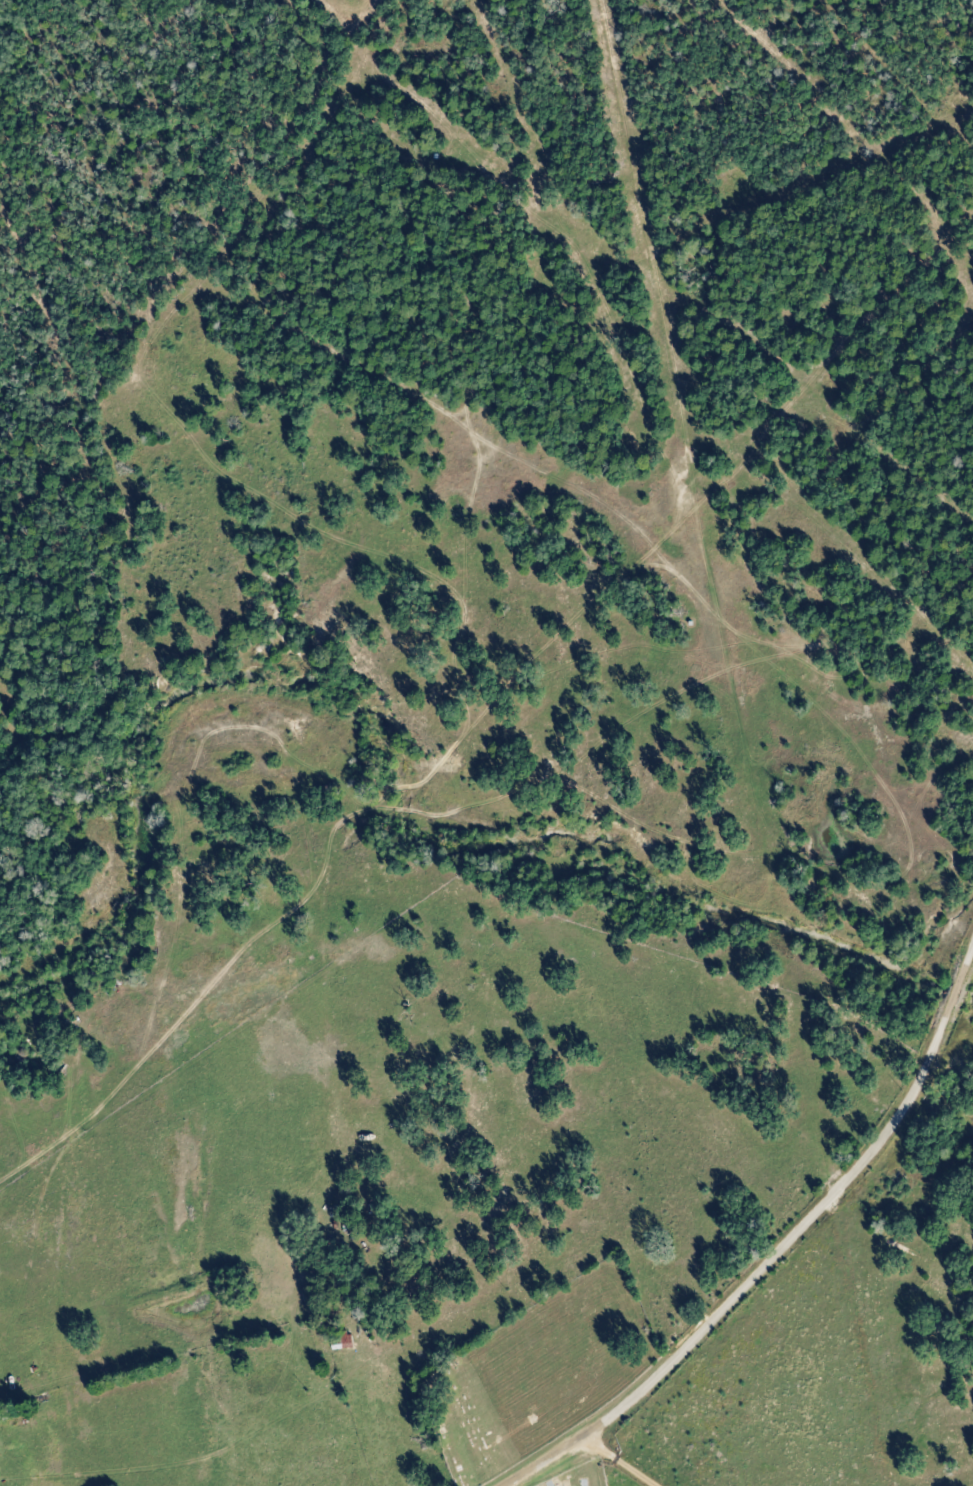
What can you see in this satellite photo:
road: (777, 1253)
park: (579, 1475)

